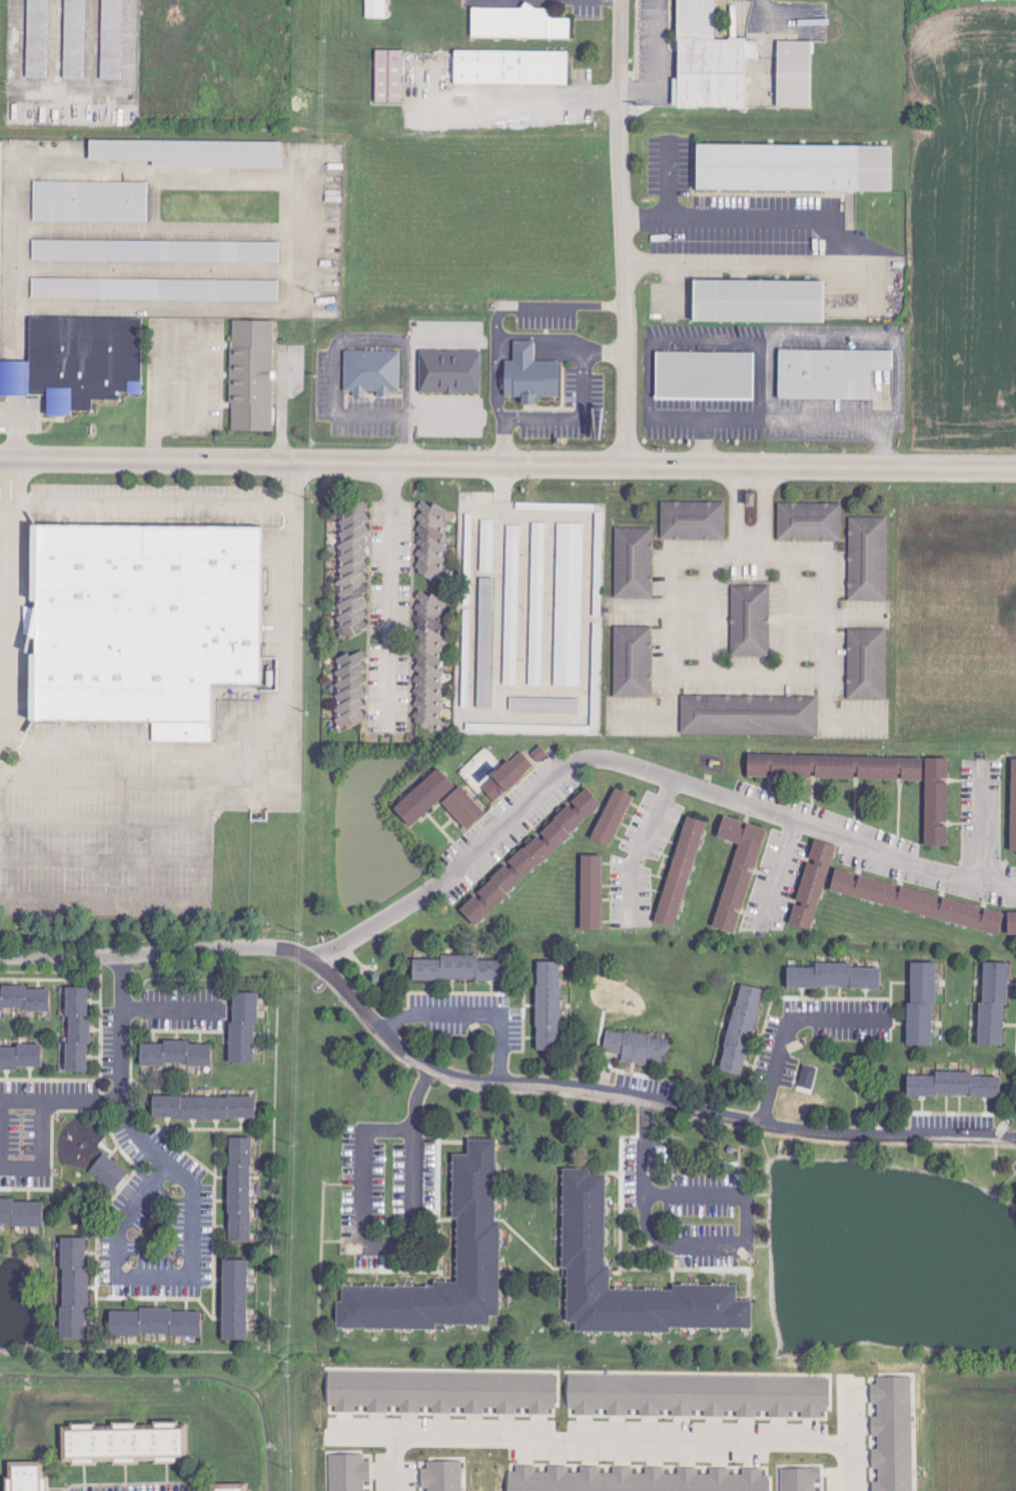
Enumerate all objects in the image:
building: (518, 23)
building: (75, 28)
building: (37, 38)
building: (111, 39)
building: (708, 60)
building: (510, 67)
building: (794, 74)
building: (389, 76)
road: (521, 99)
building: (190, 153)
building: (794, 168)
building: (90, 201)
road: (622, 232)
road: (847, 250)
building: (156, 251)
building: (155, 289)
building: (766, 307)
road: (543, 314)
road: (752, 346)
road: (502, 352)
road: (524, 352)
road: (565, 354)
building: (83, 369)
road: (335, 370)
building: (529, 375)
building: (830, 375)
building: (456, 379)
building: (380, 380)
building: (259, 381)
building: (711, 382)
road: (492, 392)
road: (572, 423)
road: (441, 426)
road: (793, 427)
road: (508, 465)
road: (149, 503)
building: (555, 506)
road: (5, 513)
building: (693, 520)
building: (809, 522)
building: (435, 539)
road: (5, 552)
road: (753, 556)
building: (867, 559)
building: (633, 563)
building: (353, 571)
road: (10, 587)
road: (5, 591)
road: (391, 598)
building: (569, 605)
building: (750, 621)
building: (155, 631)
road: (5, 632)
building: (429, 661)
building: (633, 662)
building: (866, 664)
road: (4, 670)
road: (752, 676)
building: (351, 689)
building: (544, 705)
road: (4, 714)
building: (749, 715)
road: (8, 730)
road: (75, 738)
building: (539, 754)
building: (834, 768)
road: (638, 769)
building: (507, 777)
road: (144, 781)
road: (261, 793)
building: (936, 803)
building: (611, 818)
road: (102, 820)
road: (981, 823)
road: (637, 849)
building: (529, 858)
road: (102, 859)
building: (737, 871)
building: (679, 873)
road: (780, 877)
building: (811, 886)
building: (590, 893)
building: (917, 902)
building: (1011, 923)
building: (457, 970)
building: (832, 978)
building: (24, 1000)
building: (921, 1004)
building: (992, 1005)
building: (548, 1007)
road: (169, 1009)
road: (468, 1022)
road: (788, 1025)
building: (242, 1029)
building: (77, 1030)
building: (740, 1031)
building: (636, 1047)
building: (174, 1055)
building: (20, 1058)
road: (486, 1083)
building: (953, 1086)
building: (202, 1108)
road: (0, 1126)
road: (132, 1131)
building: (108, 1172)
building: (239, 1190)
building: (21, 1214)
building: (584, 1222)
road: (119, 1242)
road: (396, 1248)
road: (701, 1249)
building: (477, 1251)
building: (73, 1288)
building: (234, 1300)
building: (154, 1323)
building: (442, 1391)
building: (698, 1395)
building: (894, 1433)
road: (622, 1439)
building: (131, 1450)
road: (397, 1466)
road: (853, 1468)
building: (25, 1476)
building: (443, 1476)
building: (801, 1479)
building: (635, 1480)
building: (238, 1490)

